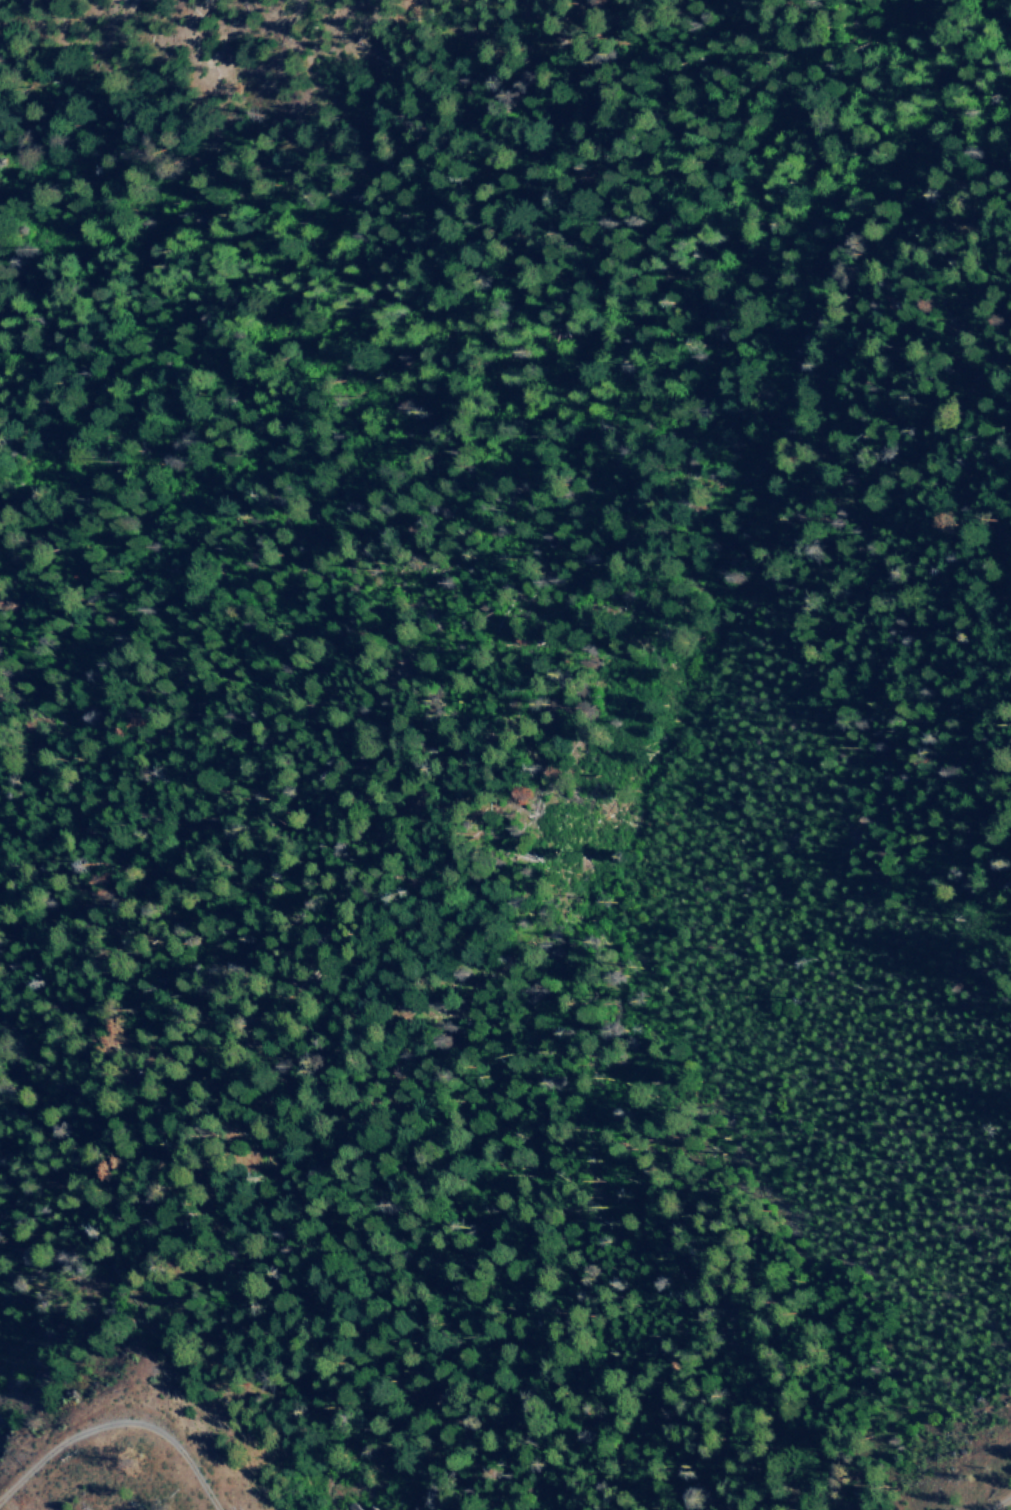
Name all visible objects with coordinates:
road: (111, 1420)
road: (997, 1500)

